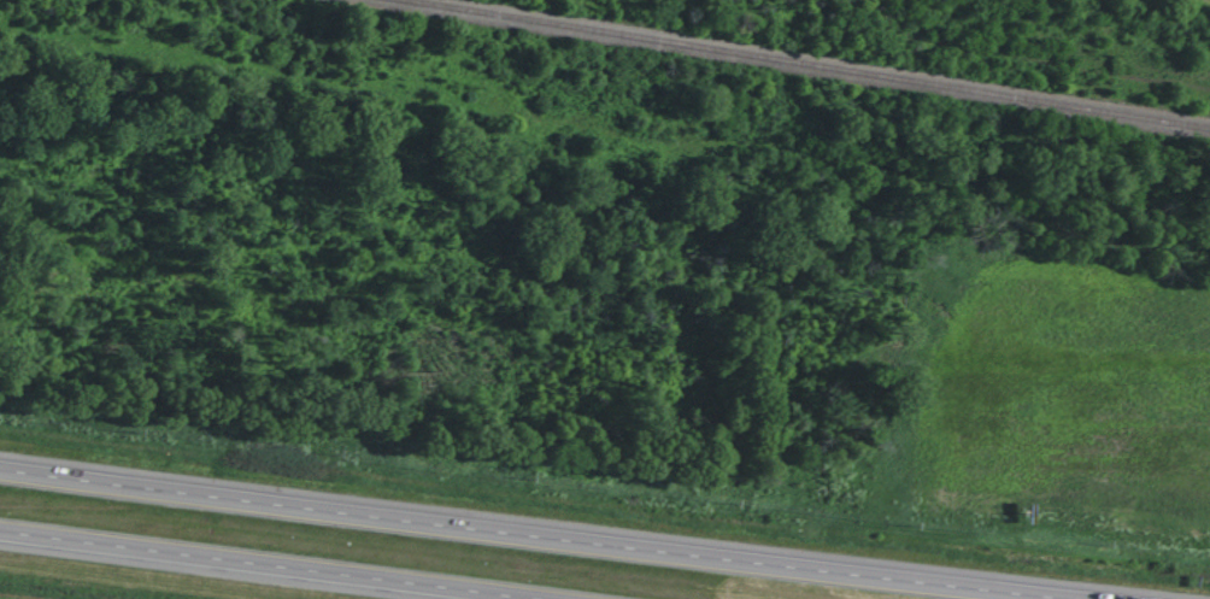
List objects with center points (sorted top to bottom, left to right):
railway: (780, 74)
railway: (605, 94)
road: (527, 536)
road: (265, 564)

